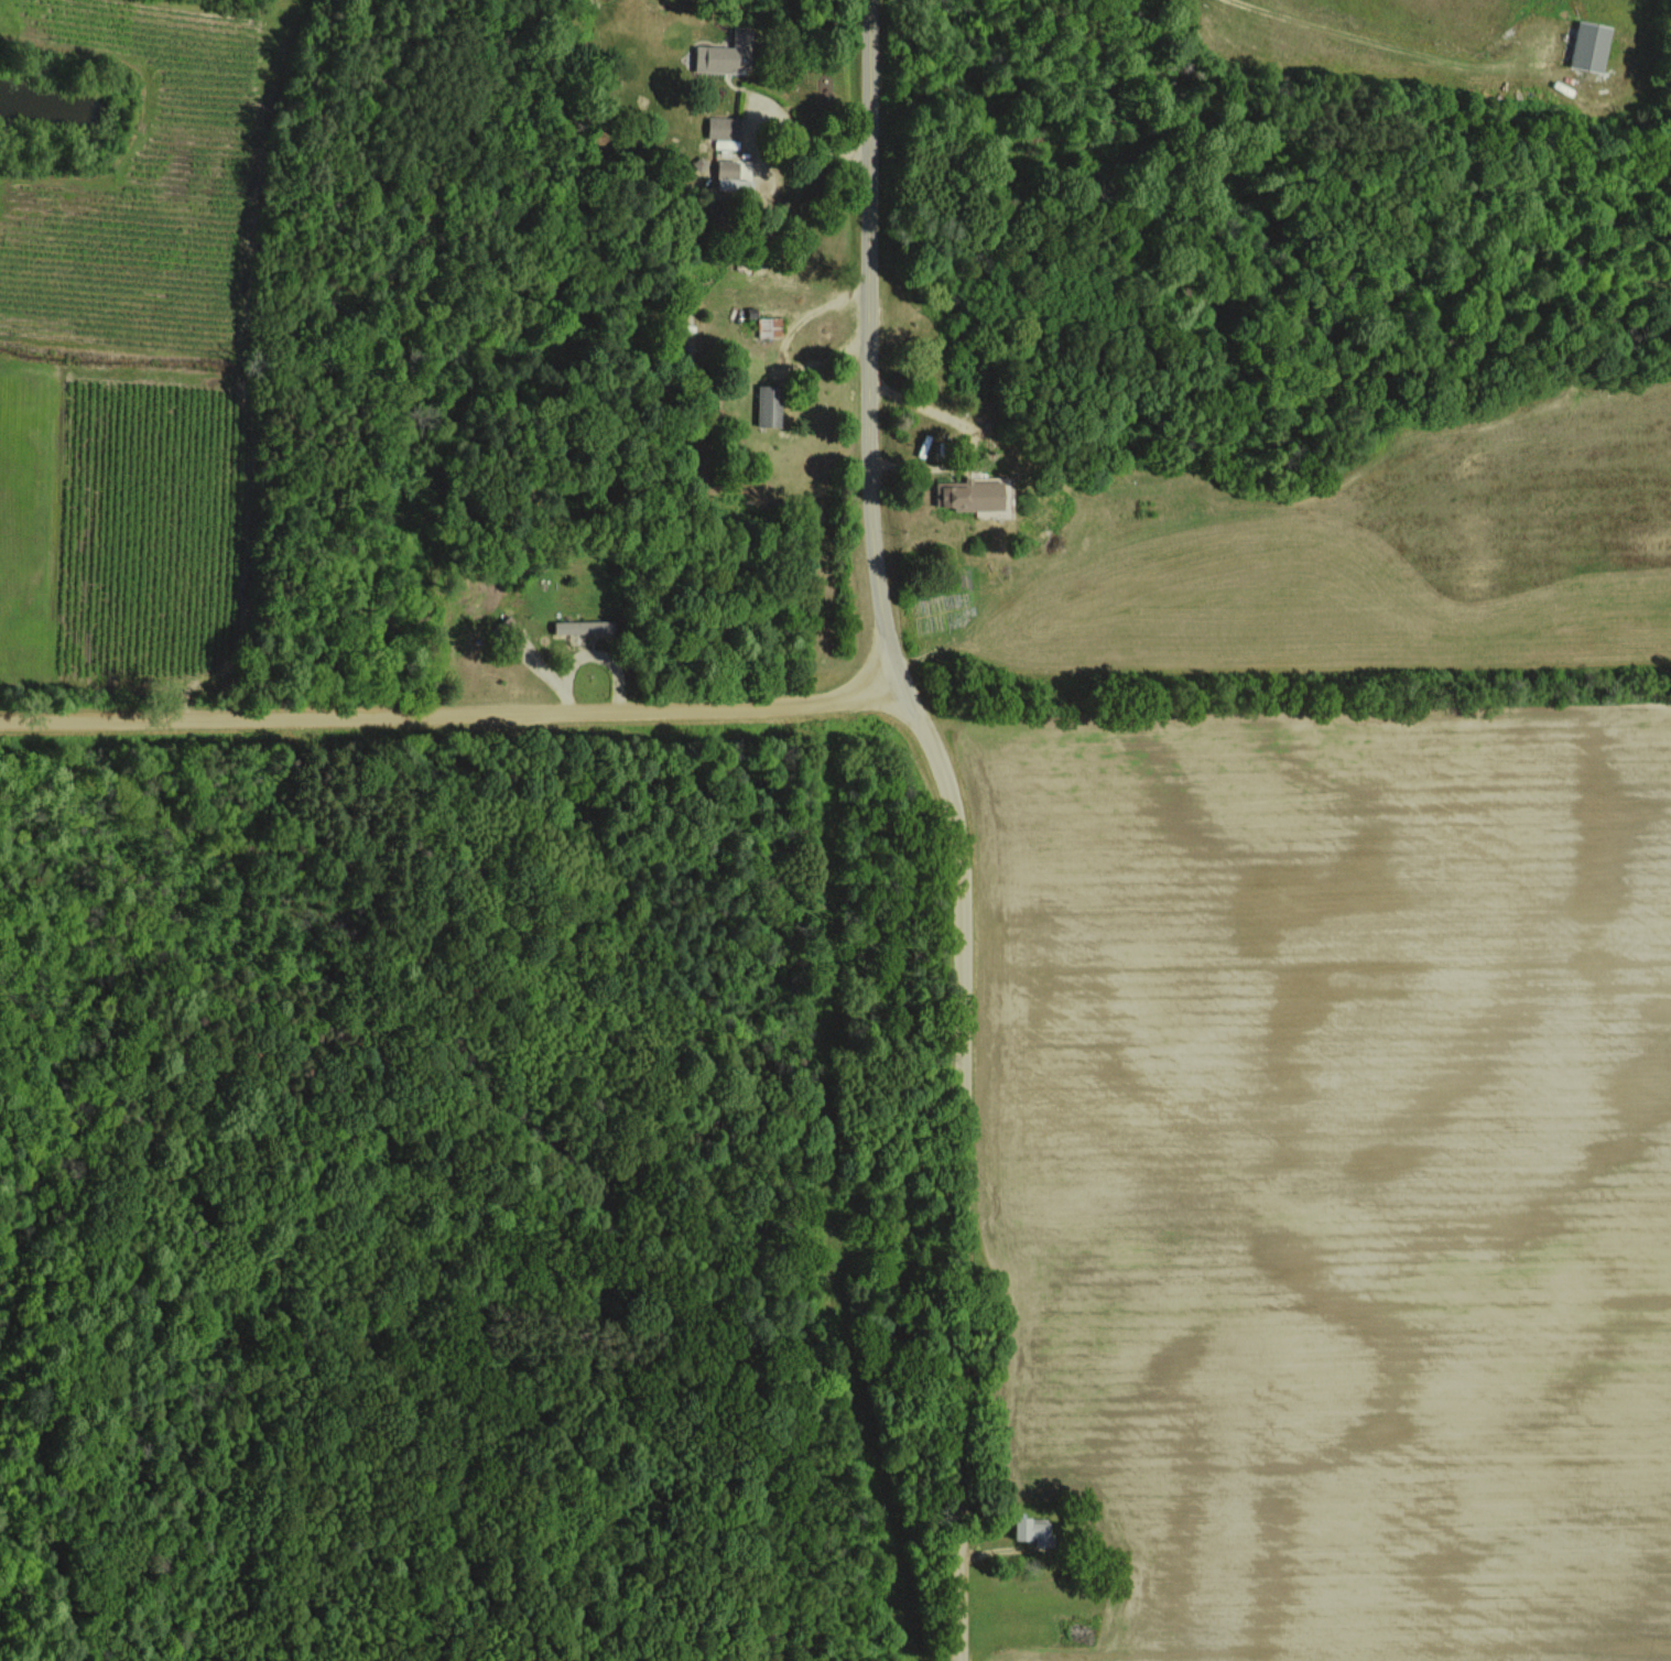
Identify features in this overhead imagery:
building: (1589, 46)
building: (726, 54)
building: (725, 131)
road: (809, 151)
building: (734, 174)
building: (770, 327)
road: (869, 351)
building: (769, 405)
building: (972, 495)
building: (578, 626)
road: (454, 715)
crop: (1330, 1172)
road: (962, 1174)
building: (1031, 1528)

